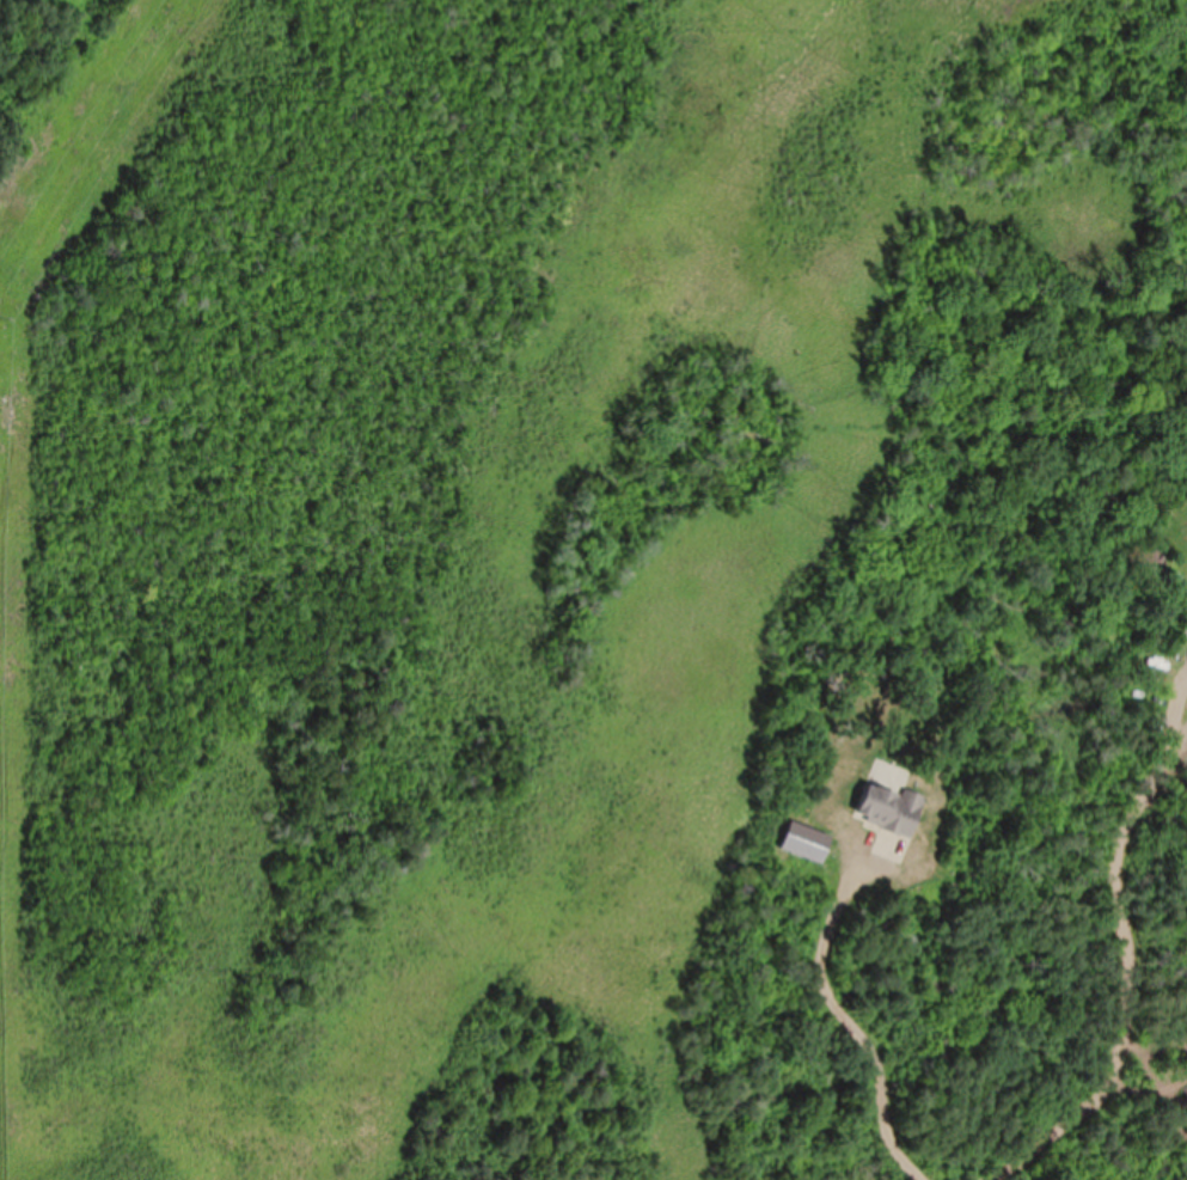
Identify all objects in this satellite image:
building: (891, 812)

